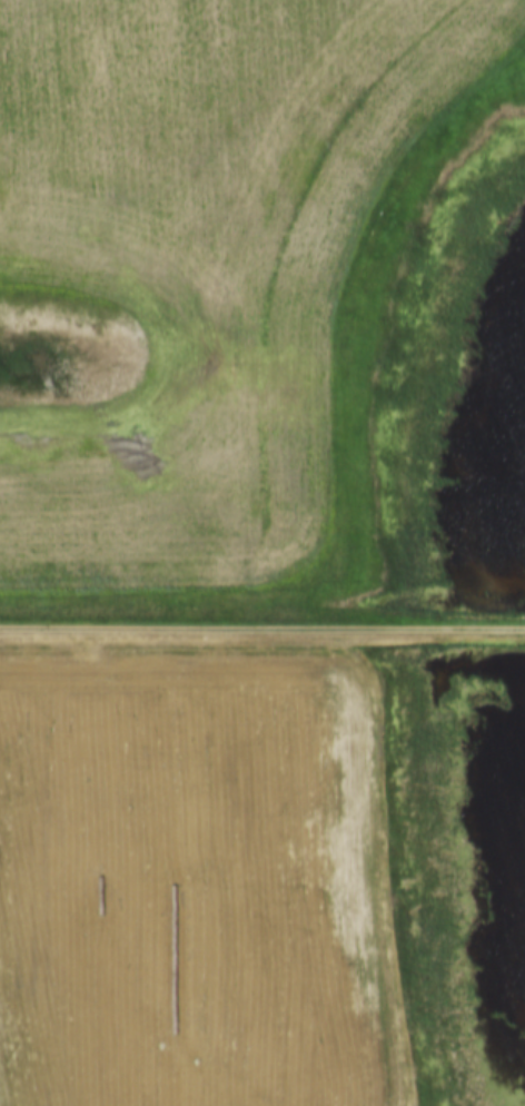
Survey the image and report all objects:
road: (262, 630)

